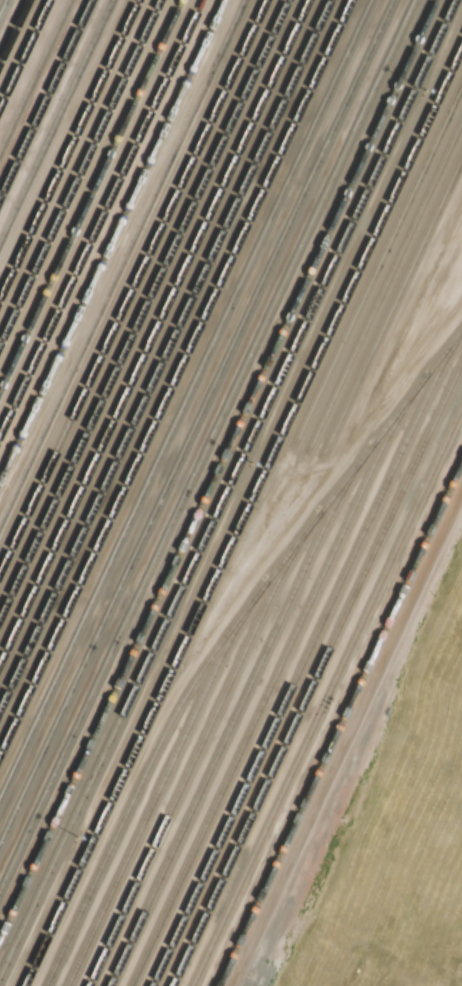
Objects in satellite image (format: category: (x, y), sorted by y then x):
railway: (5, 11)
railway: (13, 29)
railway: (23, 50)
railway: (33, 71)
railway: (43, 93)
railway: (54, 118)
railway: (67, 144)
railway: (78, 168)
railway: (88, 192)
railway: (98, 213)
railway: (110, 239)
railway: (119, 259)
railway: (378, 262)
railway: (131, 284)
railway: (385, 284)
railway: (392, 304)
railway: (142, 307)
railway: (154, 331)
railway: (164, 353)
railway: (175, 377)
railway: (185, 399)
railway: (196, 422)
railway: (206, 442)
railway: (217, 466)
railway: (228, 486)
railway: (242, 513)
building: (106, 540)
railway: (224, 638)
building: (73, 640)
railway: (303, 657)
railway: (316, 671)
railway: (273, 676)
railway: (326, 693)
railway: (235, 712)
railway: (339, 722)
road: (345, 734)
railway: (200, 745)
building: (23, 748)
railway: (162, 780)
building: (0, 839)

